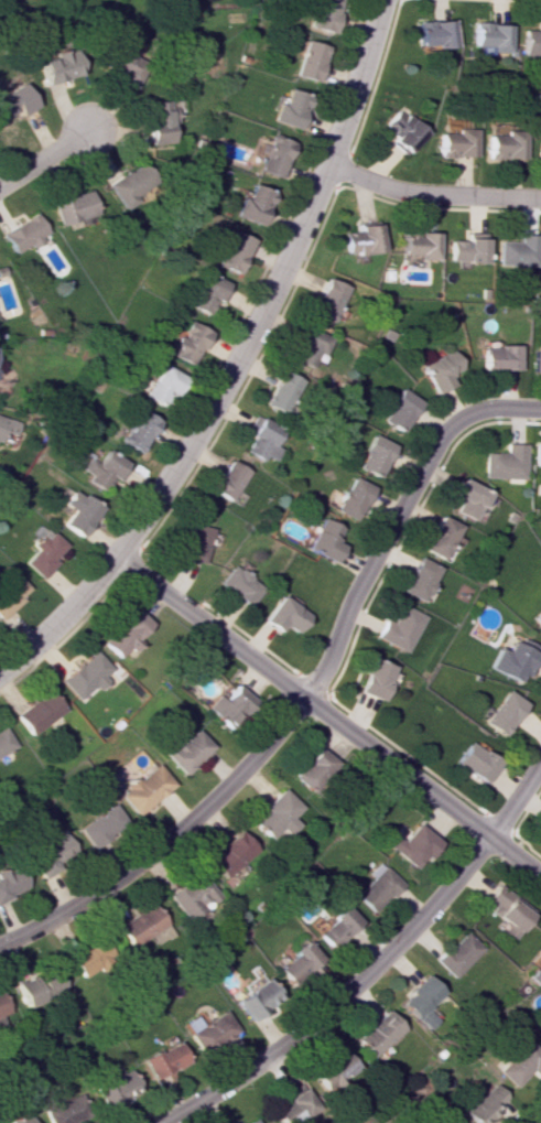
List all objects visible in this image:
building: (322, 14)
building: (434, 33)
building: (489, 37)
building: (531, 41)
building: (309, 60)
building: (57, 65)
building: (123, 66)
building: (14, 101)
building: (289, 108)
building: (158, 121)
building: (402, 131)
building: (456, 143)
building: (505, 144)
building: (539, 148)
building: (273, 154)
road: (44, 156)
building: (131, 184)
road: (432, 195)
building: (253, 204)
building: (73, 206)
building: (23, 234)
building: (363, 239)
building: (418, 244)
building: (466, 250)
building: (234, 251)
building: (517, 251)
road: (273, 290)
building: (208, 292)
building: (326, 299)
building: (187, 343)
building: (306, 347)
building: (499, 357)
building: (535, 361)
building: (439, 370)
building: (0, 374)
building: (163, 386)
building: (280, 391)
building: (398, 410)
building: (2, 425)
building: (137, 430)
building: (262, 439)
building: (374, 455)
building: (537, 455)
building: (505, 462)
building: (105, 472)
building: (227, 479)
building: (351, 497)
building: (467, 498)
building: (76, 510)
building: (437, 537)
building: (324, 540)
building: (195, 543)
building: (43, 552)
building: (418, 579)
building: (238, 584)
building: (11, 592)
building: (283, 615)
road: (61, 619)
building: (535, 619)
building: (399, 628)
building: (126, 631)
building: (512, 659)
building: (85, 674)
building: (374, 679)
road: (307, 695)
building: (228, 705)
building: (37, 712)
building: (501, 712)
road: (328, 716)
building: (4, 741)
building: (184, 751)
building: (474, 762)
building: (313, 769)
building: (142, 789)
building: (274, 816)
building: (99, 825)
building: (540, 825)
building: (411, 845)
building: (48, 853)
building: (228, 853)
building: (9, 882)
building: (376, 889)
building: (188, 895)
building: (506, 908)
building: (138, 924)
building: (334, 927)
building: (457, 953)
building: (87, 957)
building: (294, 962)
road: (374, 967)
building: (36, 987)
building: (253, 998)
building: (419, 1001)
building: (1, 1008)
building: (208, 1032)
building: (375, 1033)
building: (162, 1059)
building: (520, 1063)
building: (329, 1070)
building: (112, 1086)
building: (483, 1104)
building: (290, 1105)
building: (64, 1110)
building: (20, 1120)
building: (247, 1121)

